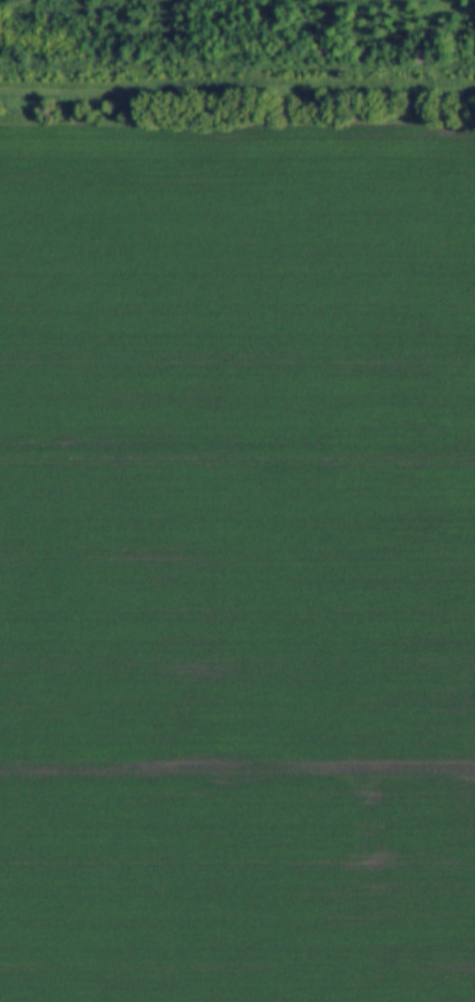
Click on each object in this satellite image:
road: (135, 57)

